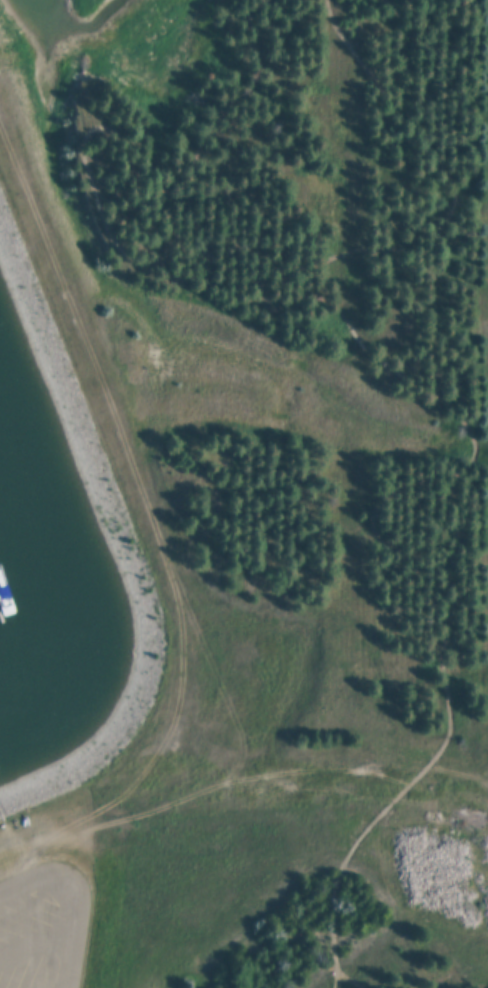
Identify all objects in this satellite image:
road: (434, 45)
road: (452, 175)
road: (423, 389)
park: (277, 508)
road: (75, 898)
parking lot: (45, 927)
road: (36, 945)
road: (331, 974)

